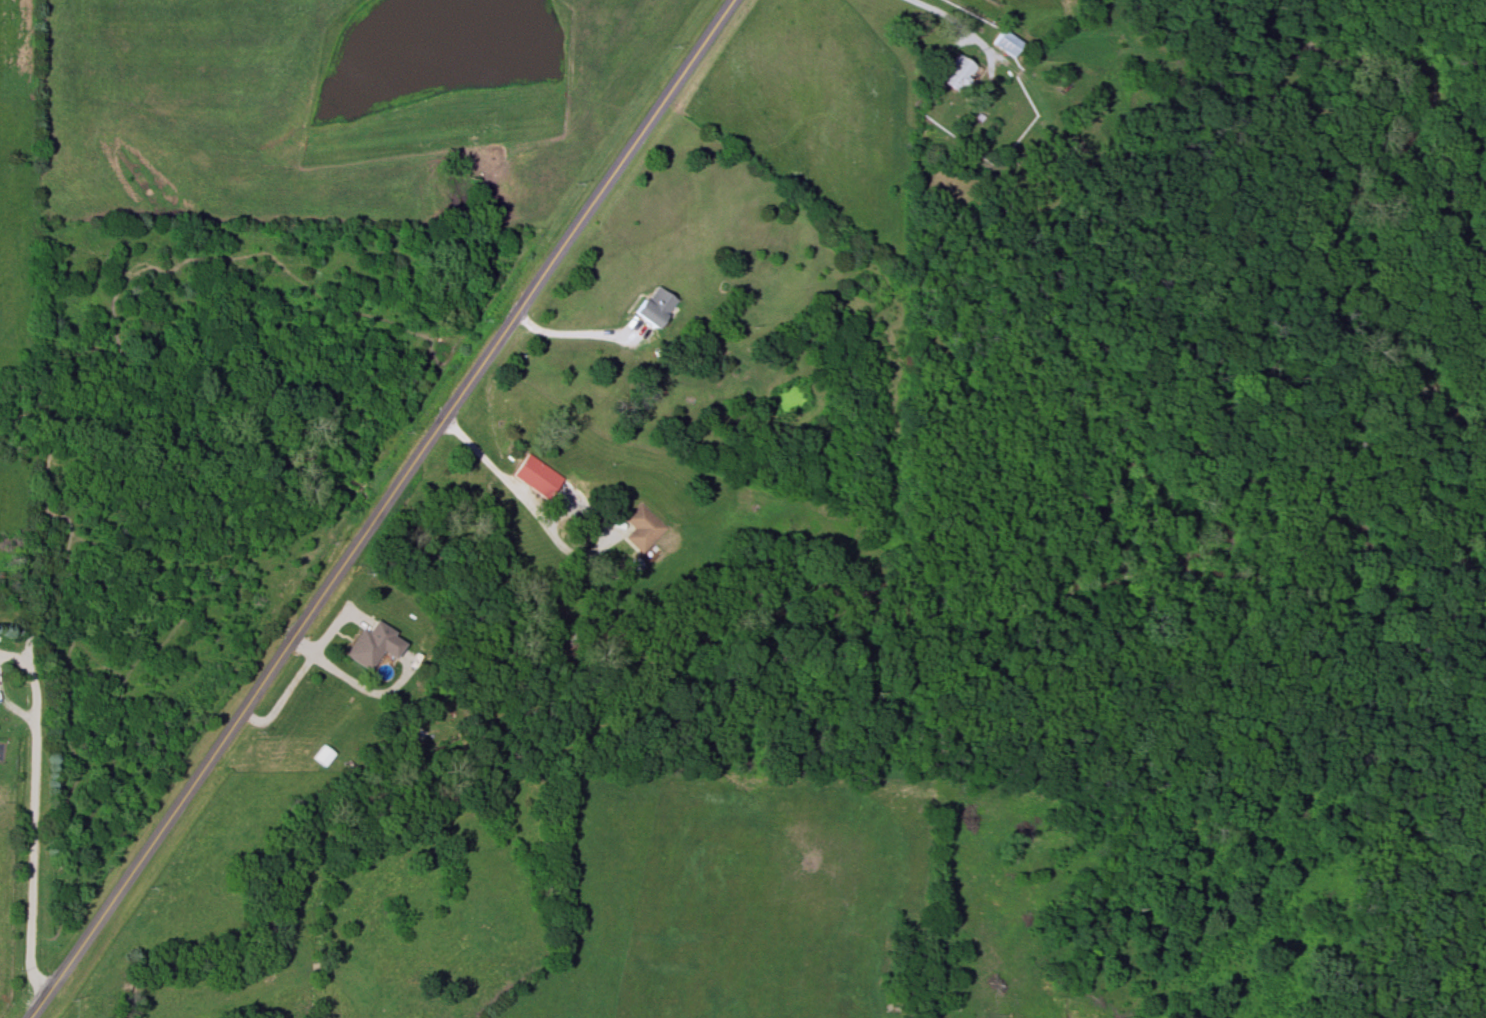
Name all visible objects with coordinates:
road: (953, 23)
building: (1008, 44)
building: (959, 73)
building: (660, 307)
road: (566, 333)
building: (540, 477)
road: (378, 508)
building: (644, 528)
road: (549, 531)
building: (377, 646)
building: (324, 756)
road: (33, 814)

